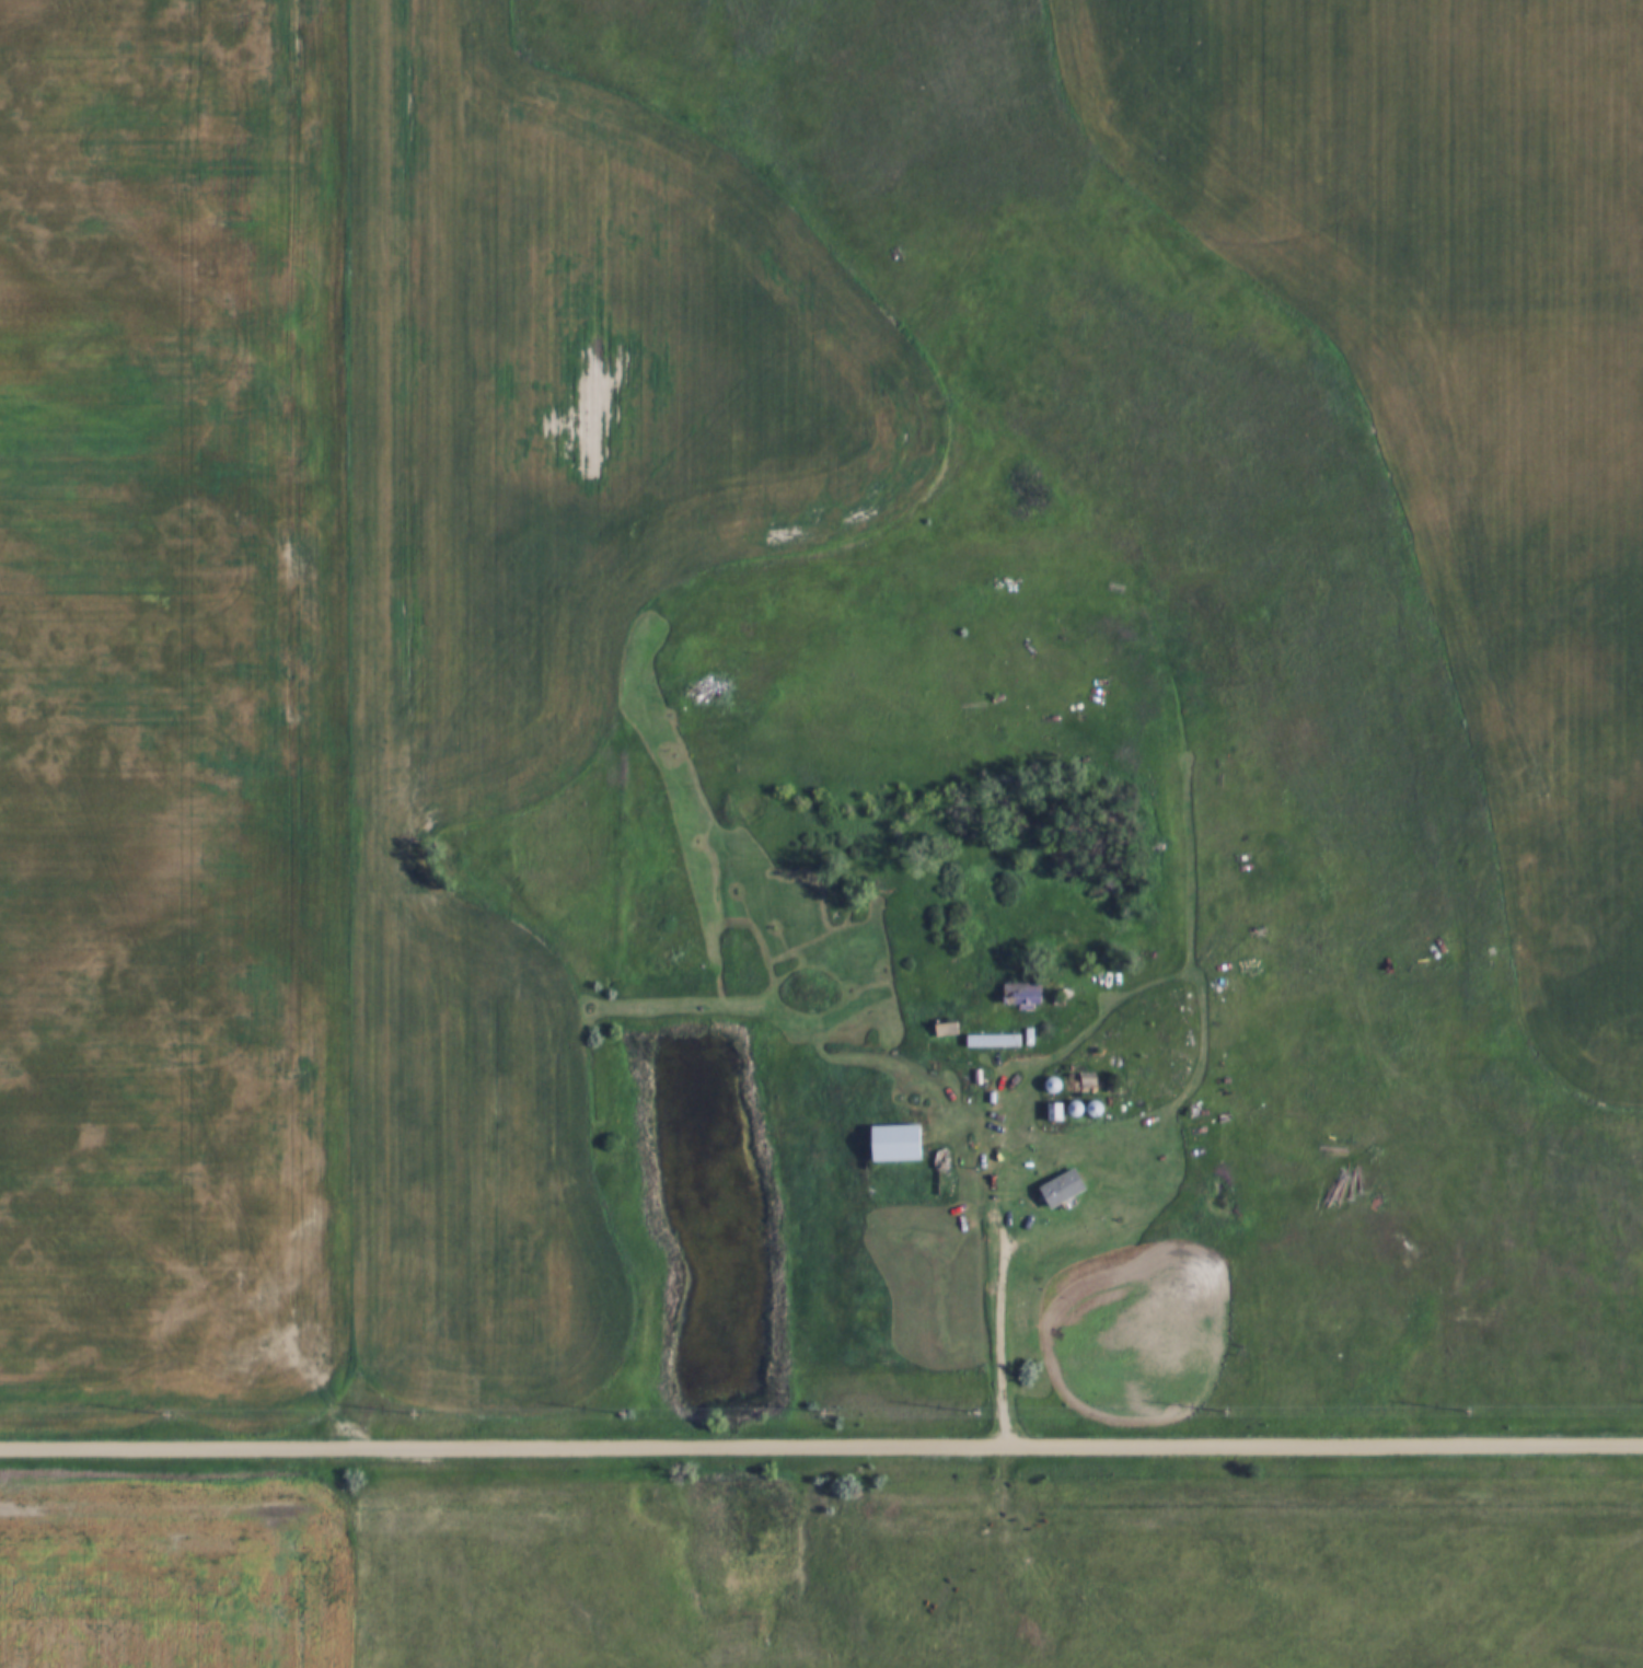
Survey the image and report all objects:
road: (355, 723)
building: (1025, 994)
building: (900, 1143)
building: (1065, 1188)
road: (999, 1329)
road: (821, 1448)

